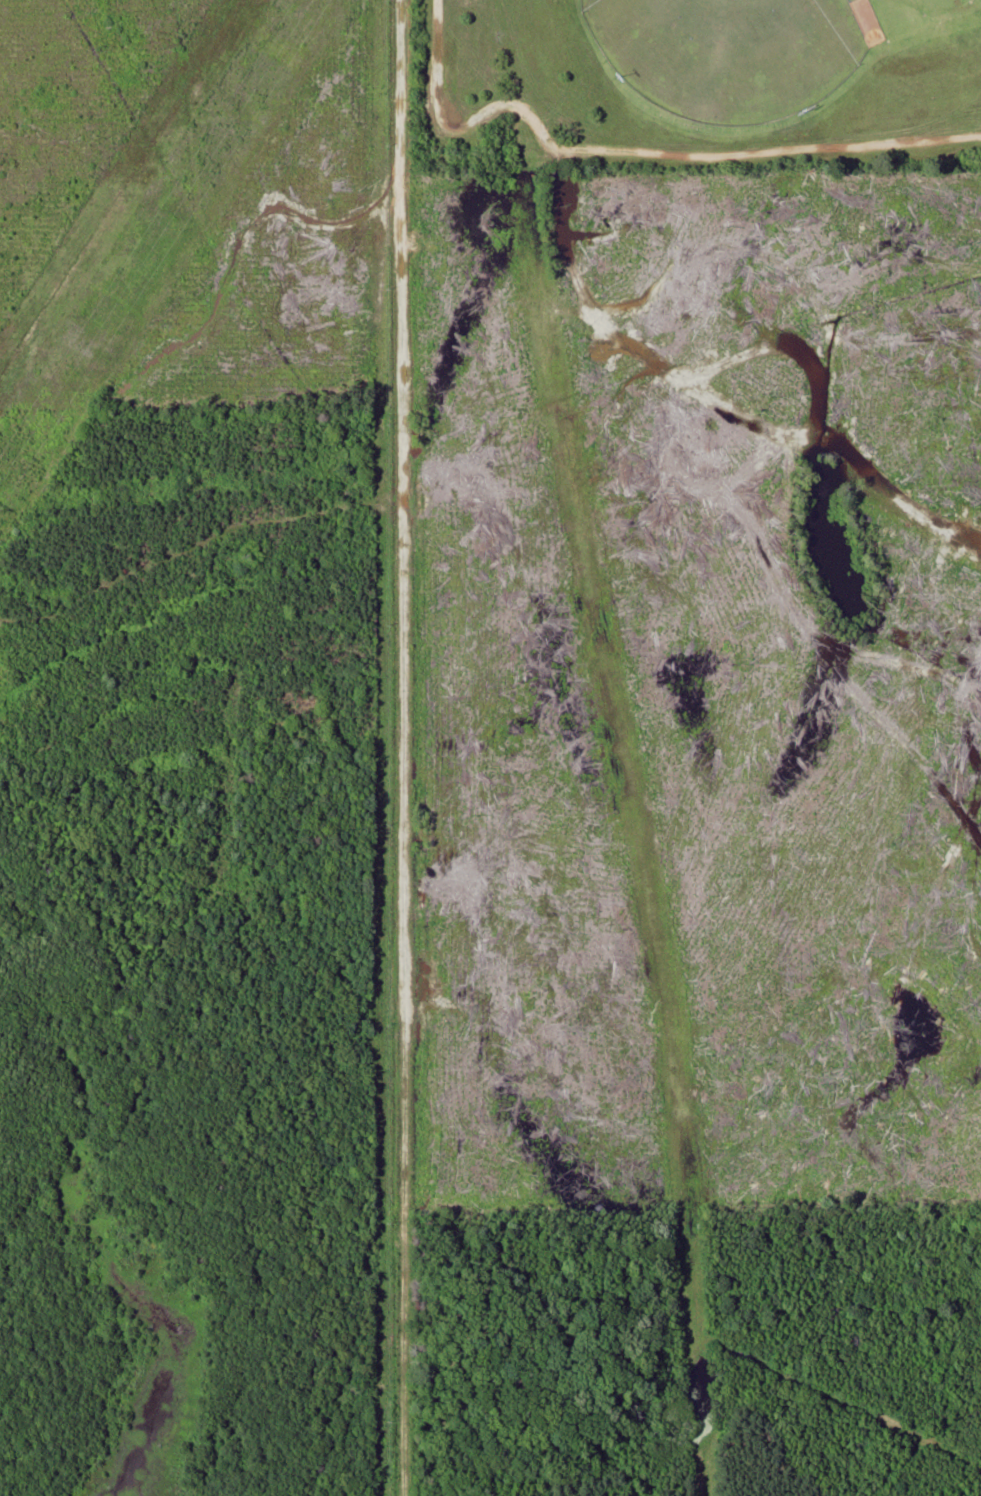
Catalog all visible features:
park: (702, 85)
road: (389, 748)

